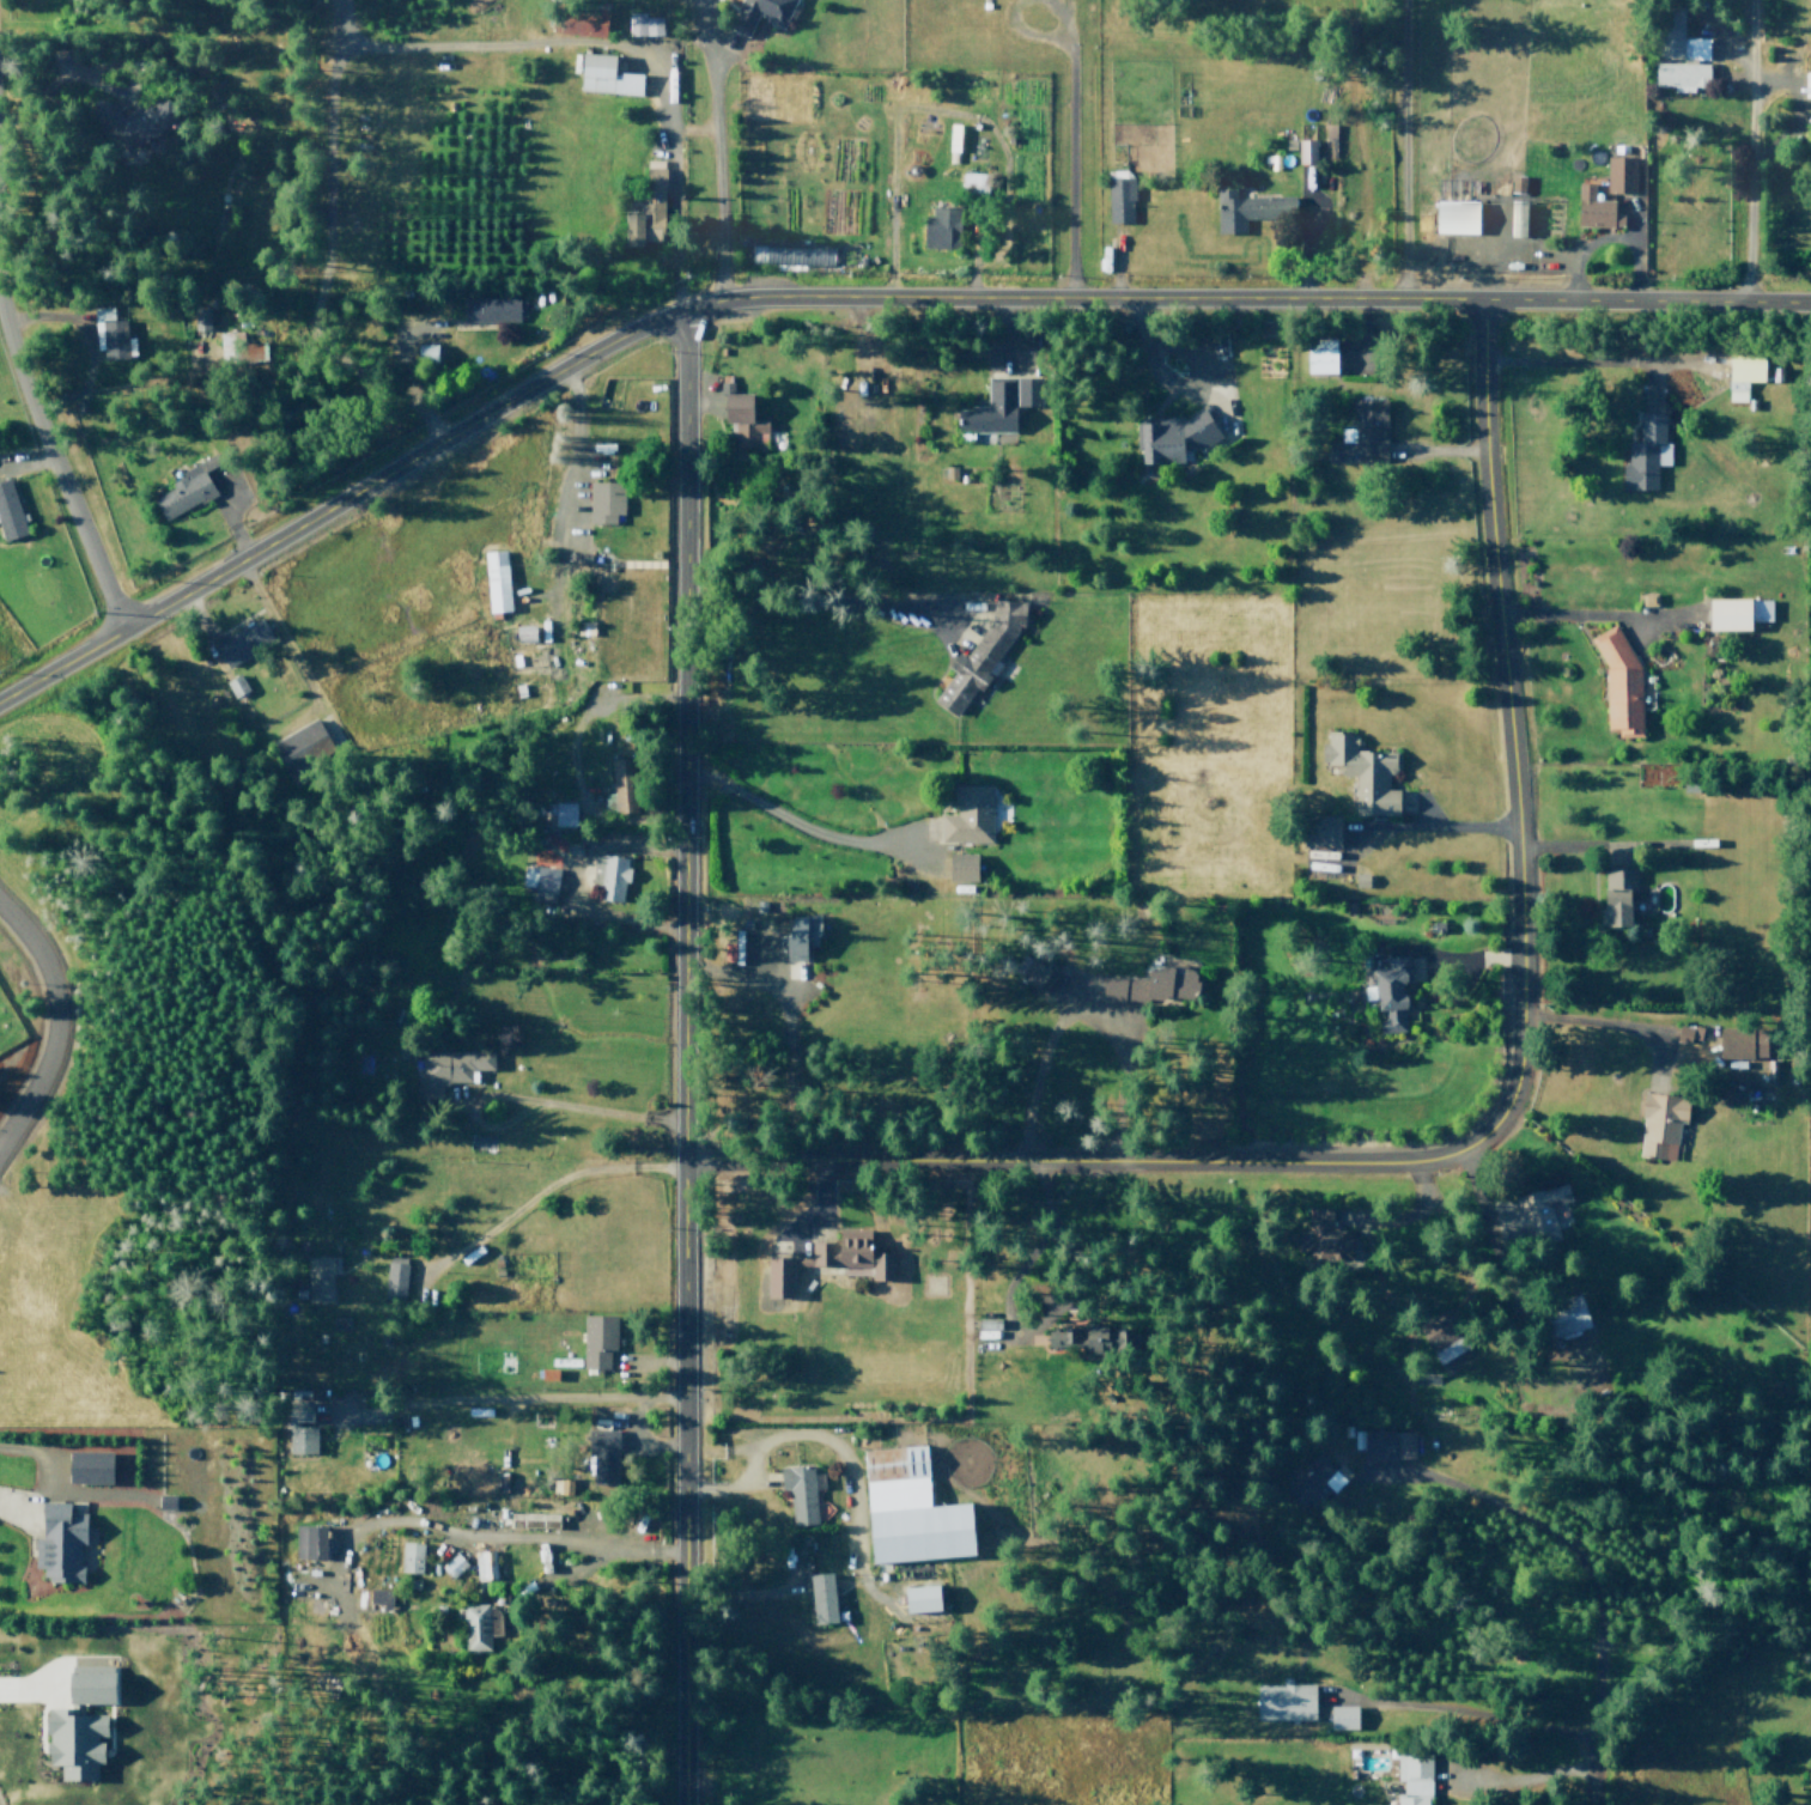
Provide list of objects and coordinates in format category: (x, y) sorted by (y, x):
building: (759, 12)
road: (1009, 19)
building: (581, 20)
road: (704, 23)
building: (643, 26)
road: (645, 43)
road: (1725, 48)
road: (718, 50)
building: (1681, 54)
road: (56, 72)
building: (608, 75)
crop: (1535, 78)
road: (1728, 79)
road: (1776, 81)
road: (950, 115)
building: (138, 128)
road: (688, 129)
building: (1329, 140)
building: (953, 142)
road: (1068, 150)
road: (1404, 150)
road: (1749, 150)
building: (1303, 151)
building: (1619, 174)
road: (670, 177)
building: (1517, 184)
building: (973, 186)
building: (1118, 201)
building: (648, 206)
building: (1593, 208)
building: (1246, 209)
building: (1456, 218)
building: (1514, 218)
building: (938, 227)
road: (1633, 231)
road: (1303, 236)
road: (1628, 237)
road: (1624, 241)
road: (324, 247)
road: (1530, 256)
building: (791, 257)
building: (1102, 257)
road: (1117, 266)
road: (852, 299)
building: (492, 314)
road: (396, 316)
building: (199, 318)
building: (109, 330)
road: (1010, 334)
road: (1375, 340)
road: (84, 341)
building: (232, 348)
building: (1321, 355)
building: (424, 358)
road: (1590, 360)
road: (1189, 363)
road: (1156, 376)
building: (1743, 377)
road: (1652, 381)
road: (697, 401)
building: (995, 409)
building: (743, 419)
building: (1362, 432)
building: (1178, 438)
road: (1442, 451)
building: (1643, 454)
road: (26, 464)
road: (575, 469)
road: (59, 472)
building: (184, 492)
building: (603, 500)
building: (10, 515)
road: (230, 516)
building: (498, 581)
road: (862, 607)
road: (1585, 613)
building: (1734, 614)
building: (236, 645)
building: (978, 660)
road: (300, 674)
building: (1621, 683)
building: (233, 686)
road: (591, 709)
building: (297, 752)
building: (1363, 772)
building: (621, 795)
building: (560, 819)
building: (966, 819)
road: (1432, 828)
road: (800, 829)
building: (1321, 833)
road: (1608, 850)
road: (1353, 853)
road: (898, 861)
building: (959, 870)
road: (571, 876)
building: (607, 877)
building: (540, 881)
building: (1361, 881)
building: (1618, 894)
building: (798, 937)
road: (766, 954)
road: (1451, 960)
building: (1034, 977)
building: (1161, 987)
building: (1110, 992)
building: (1391, 996)
road: (1082, 1005)
road: (60, 1020)
road: (1615, 1026)
road: (786, 1028)
building: (1687, 1034)
building: (1743, 1044)
road: (1689, 1051)
road: (682, 1058)
building: (452, 1071)
road: (534, 1102)
road: (1496, 1120)
building: (1659, 1122)
road: (539, 1191)
road: (822, 1211)
road: (1416, 1214)
building: (1537, 1217)
road: (1479, 1227)
building: (1319, 1236)
building: (847, 1256)
road: (1509, 1263)
road: (1017, 1274)
building: (779, 1277)
building: (320, 1283)
building: (394, 1284)
building: (1562, 1317)
building: (1084, 1337)
building: (1445, 1338)
building: (597, 1342)
road: (651, 1363)
building: (1427, 1378)
road: (541, 1398)
building: (299, 1435)
road: (835, 1442)
building: (1381, 1446)
building: (603, 1457)
building: (84, 1475)
road: (756, 1478)
building: (464, 1481)
building: (1307, 1483)
road: (1380, 1483)
building: (560, 1484)
road: (28, 1485)
road: (759, 1485)
park: (1713, 1493)
building: (800, 1494)
road: (84, 1507)
building: (910, 1509)
building: (159, 1511)
building: (531, 1519)
road: (476, 1543)
building: (303, 1546)
building: (54, 1549)
building: (408, 1556)
building: (487, 1563)
road: (498, 1576)
road: (1593, 1594)
building: (378, 1596)
building: (821, 1597)
building: (922, 1598)
building: (478, 1636)
building: (1283, 1701)
road: (25, 1704)
building: (1342, 1719)
road: (1471, 1736)
building: (72, 1745)
road: (1460, 1773)
building: (1411, 1776)

